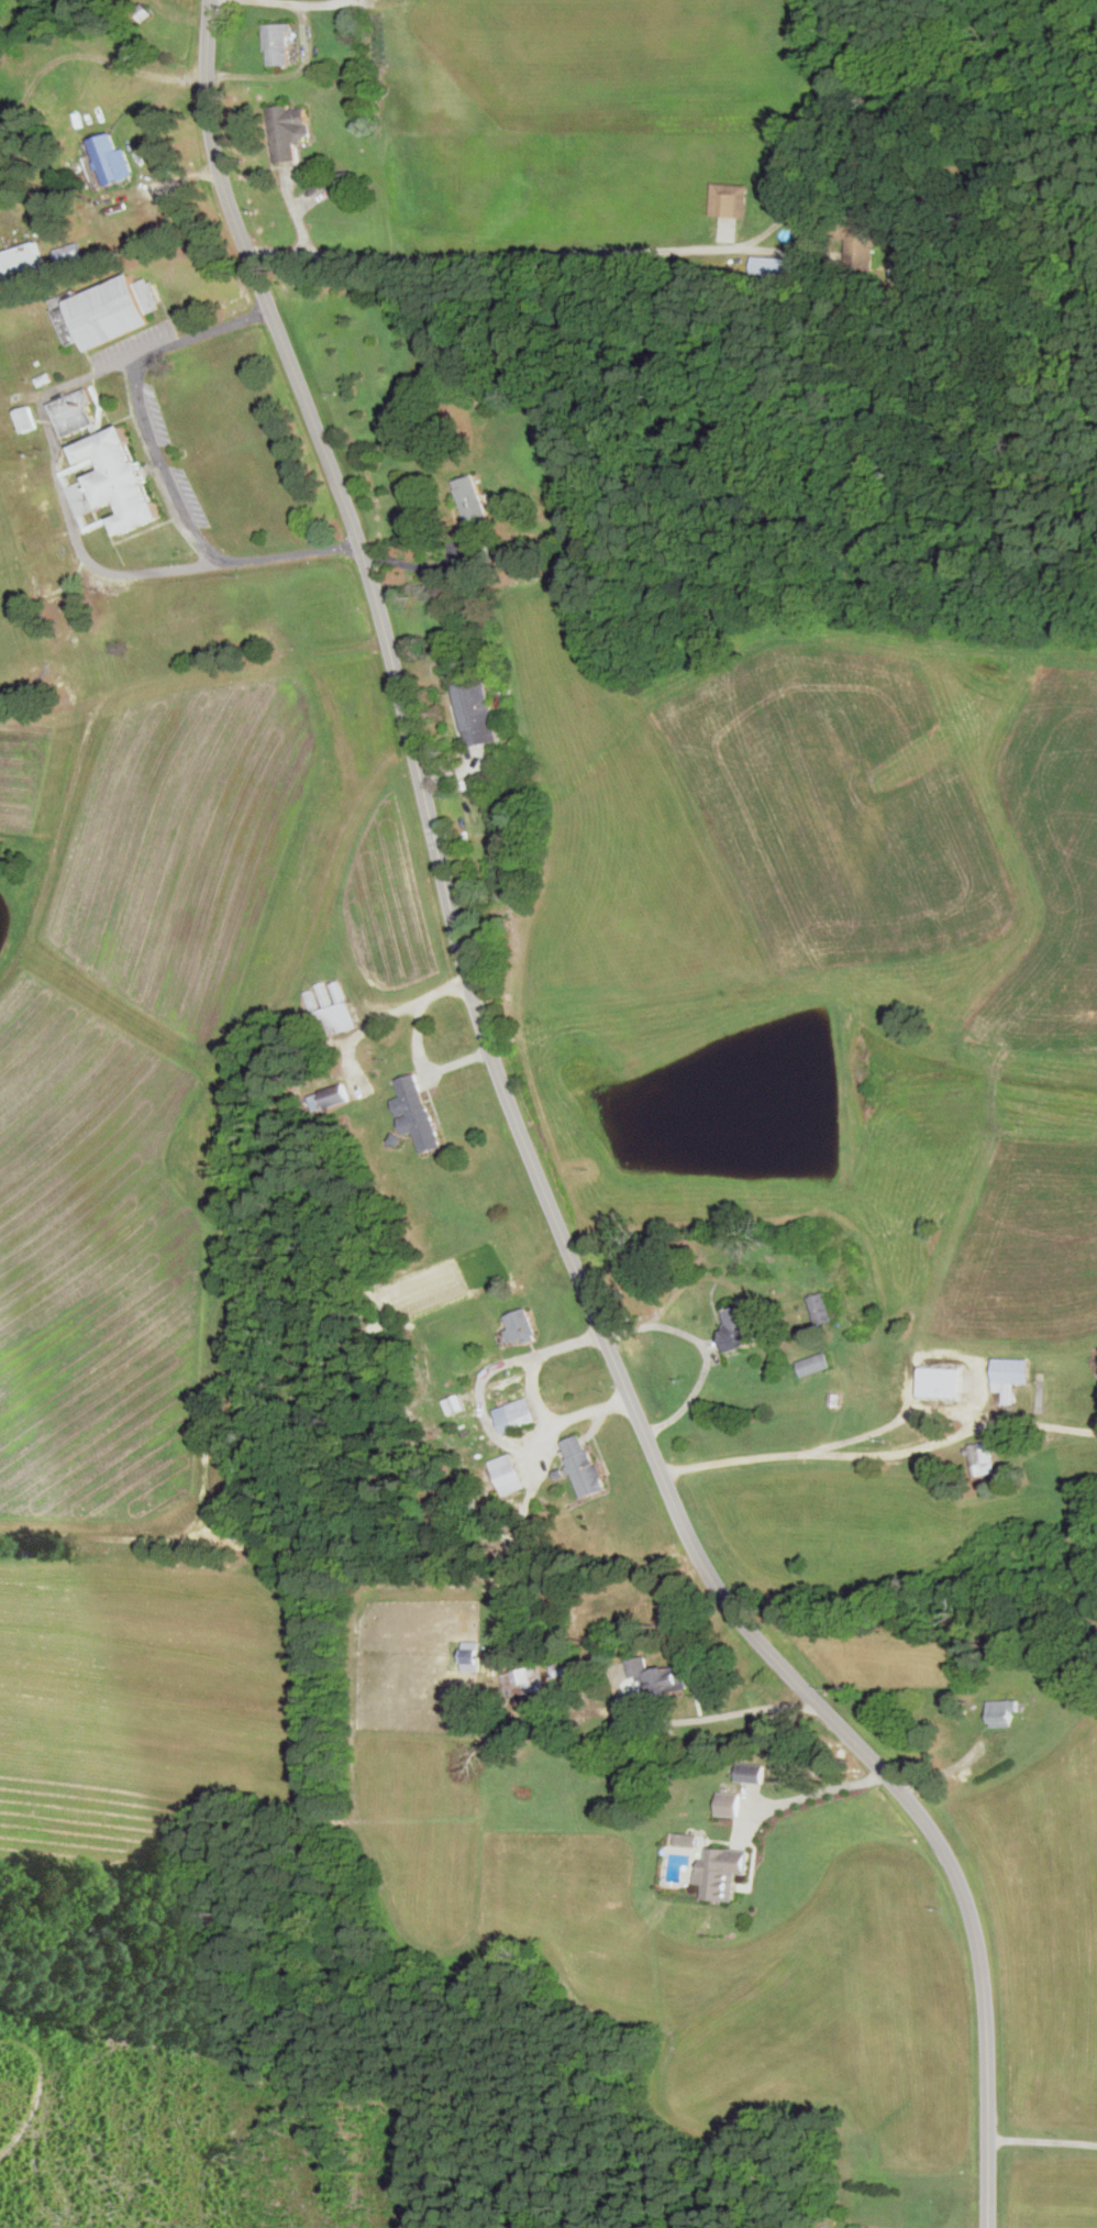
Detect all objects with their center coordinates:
road: (292, 4)
building: (277, 44)
building: (288, 130)
building: (111, 157)
building: (342, 183)
building: (860, 241)
road: (584, 252)
building: (20, 261)
building: (907, 262)
building: (769, 265)
building: (106, 310)
building: (75, 410)
building: (25, 418)
road: (162, 467)
building: (114, 479)
road: (60, 485)
building: (472, 499)
road: (414, 563)
building: (475, 712)
building: (503, 816)
building: (332, 1018)
building: (335, 1094)
building: (417, 1112)
road: (529, 1154)
building: (820, 1308)
building: (520, 1326)
building: (738, 1326)
road: (702, 1343)
building: (815, 1364)
building: (1011, 1374)
building: (941, 1382)
building: (514, 1414)
road: (878, 1455)
building: (980, 1458)
building: (584, 1465)
building: (507, 1474)
building: (252, 1533)
building: (561, 1666)
building: (657, 1678)
building: (523, 1680)
building: (1002, 1711)
road: (705, 1716)
building: (751, 1772)
road: (801, 1789)
building: (729, 1804)
building: (722, 1872)
road: (1042, 2142)

